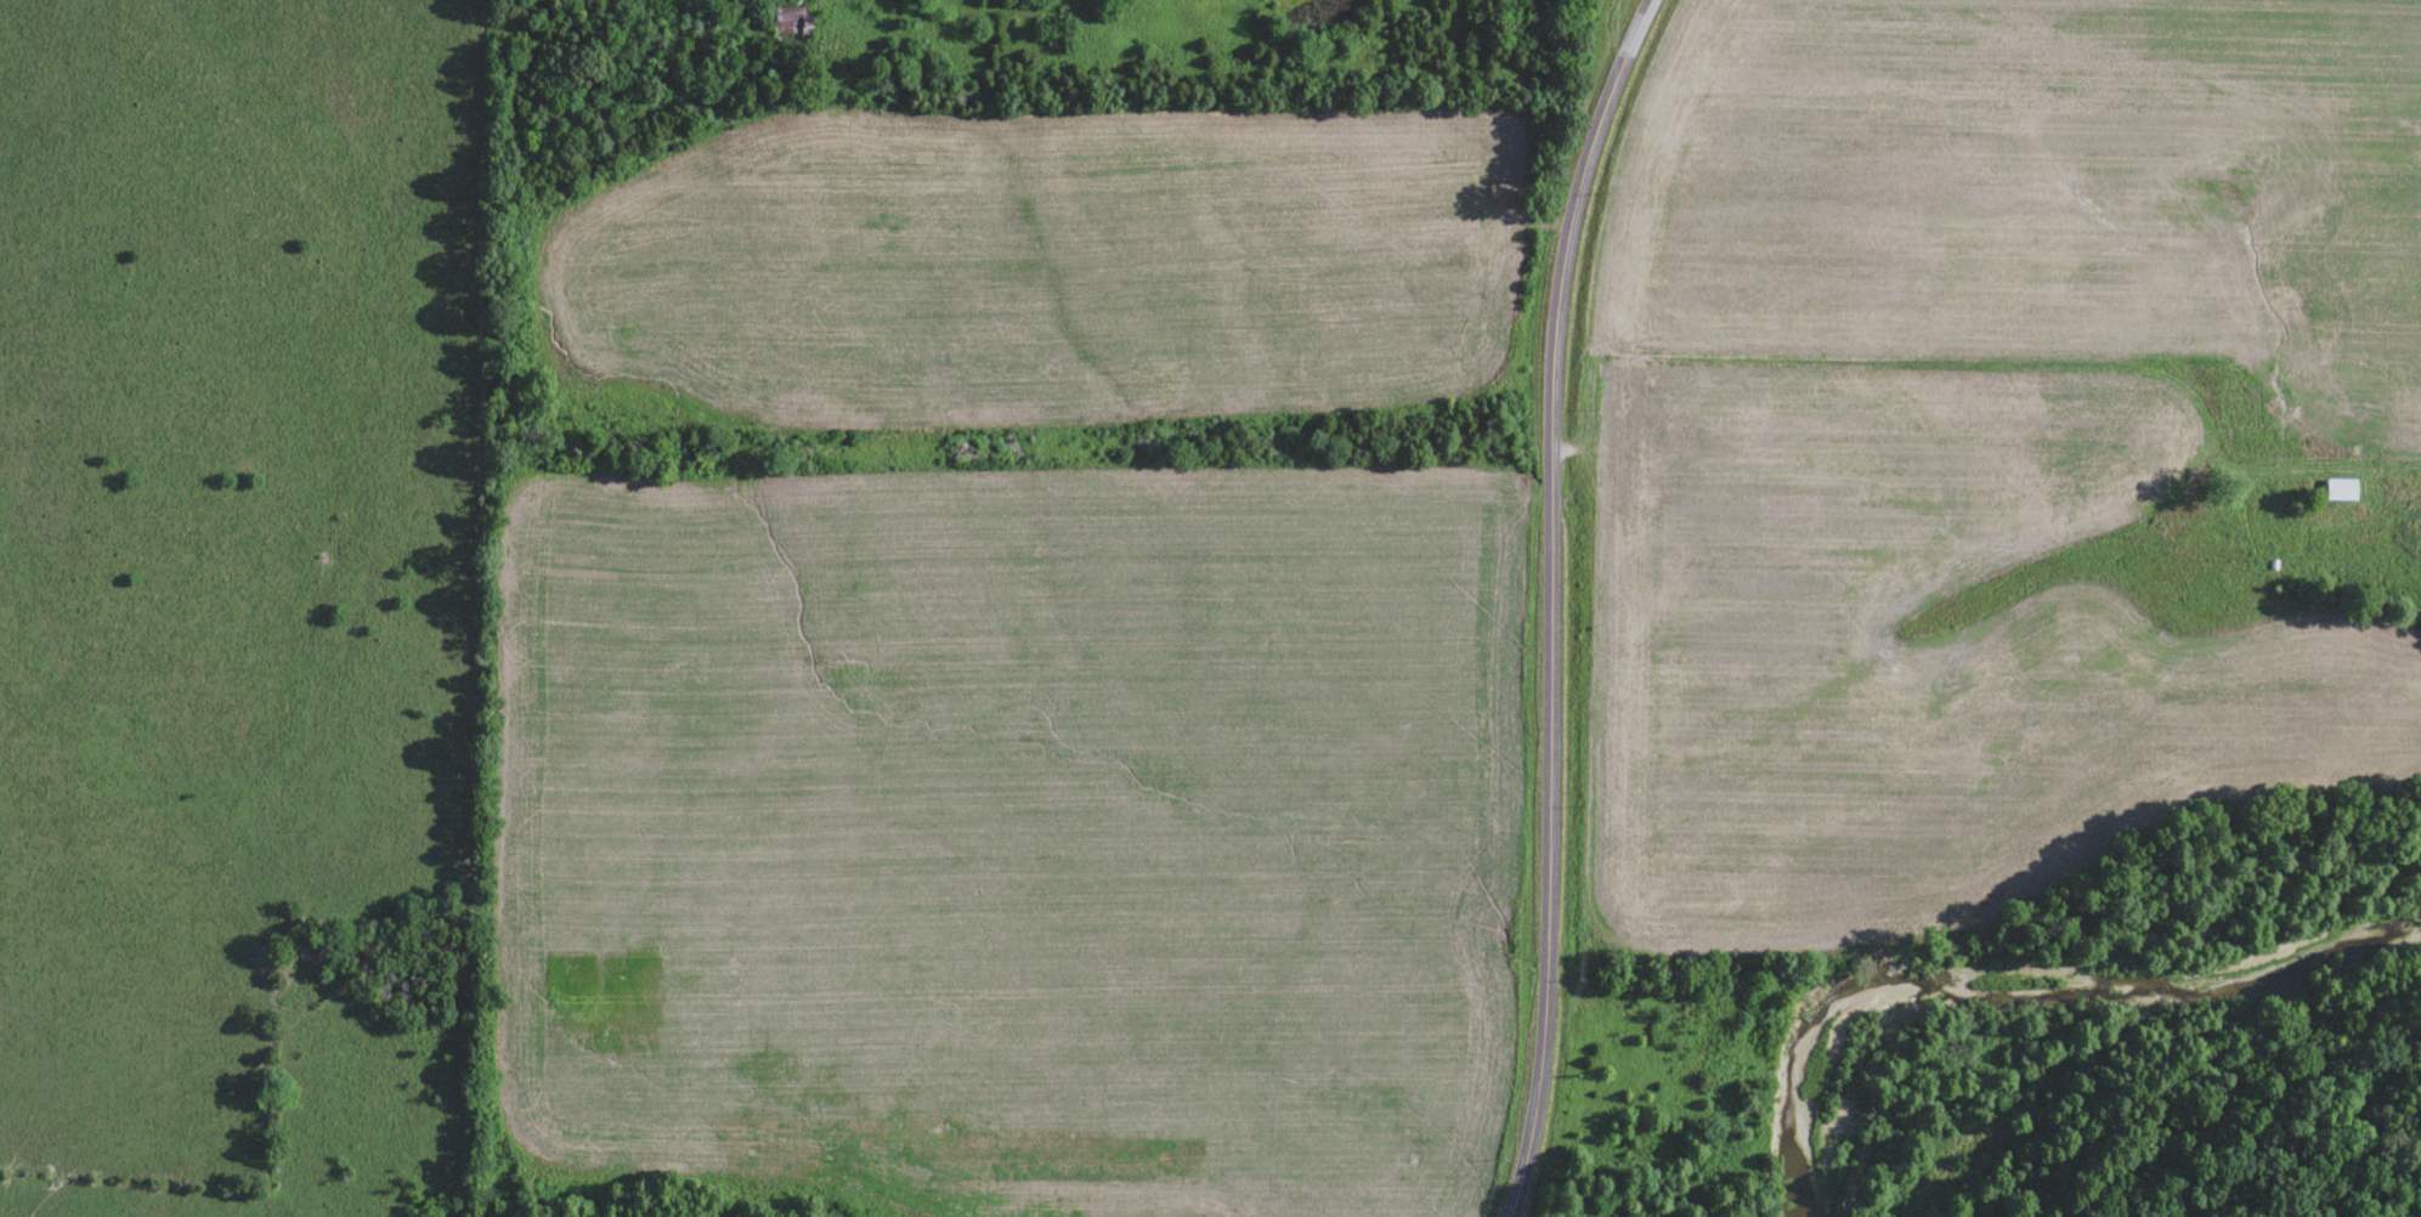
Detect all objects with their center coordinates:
building: (785, 30)
building: (2337, 489)
road: (1554, 601)

